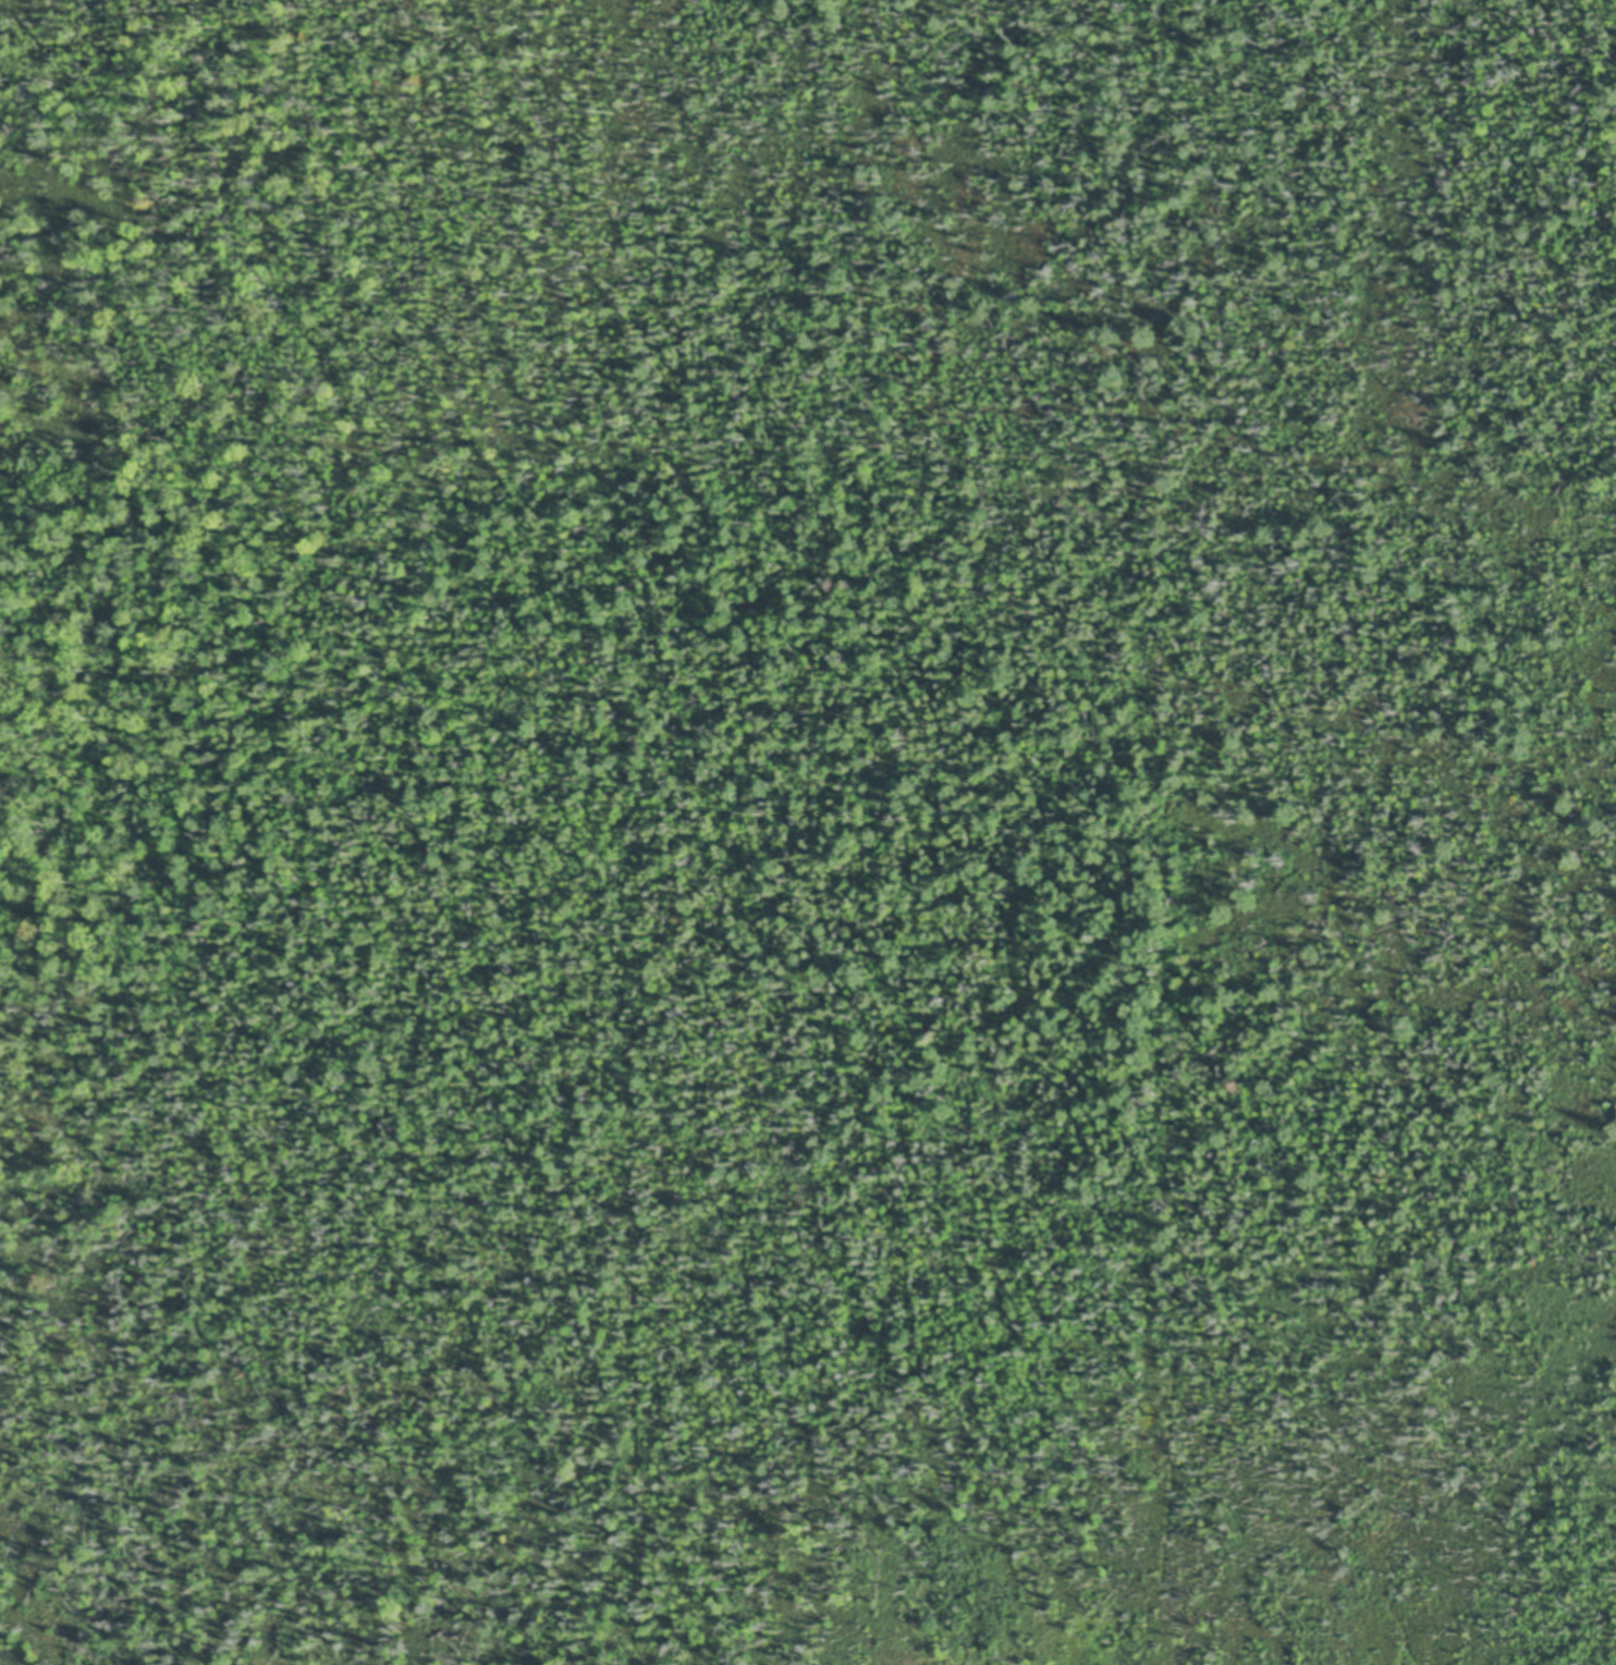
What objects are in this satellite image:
building: (623, 591)

